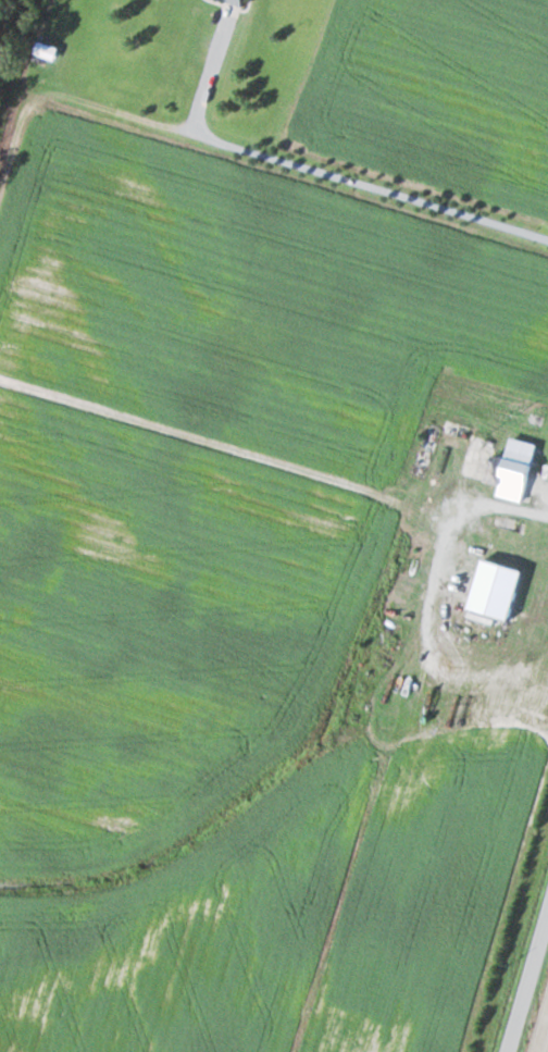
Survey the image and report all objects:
building: (511, 469)
road: (530, 993)

